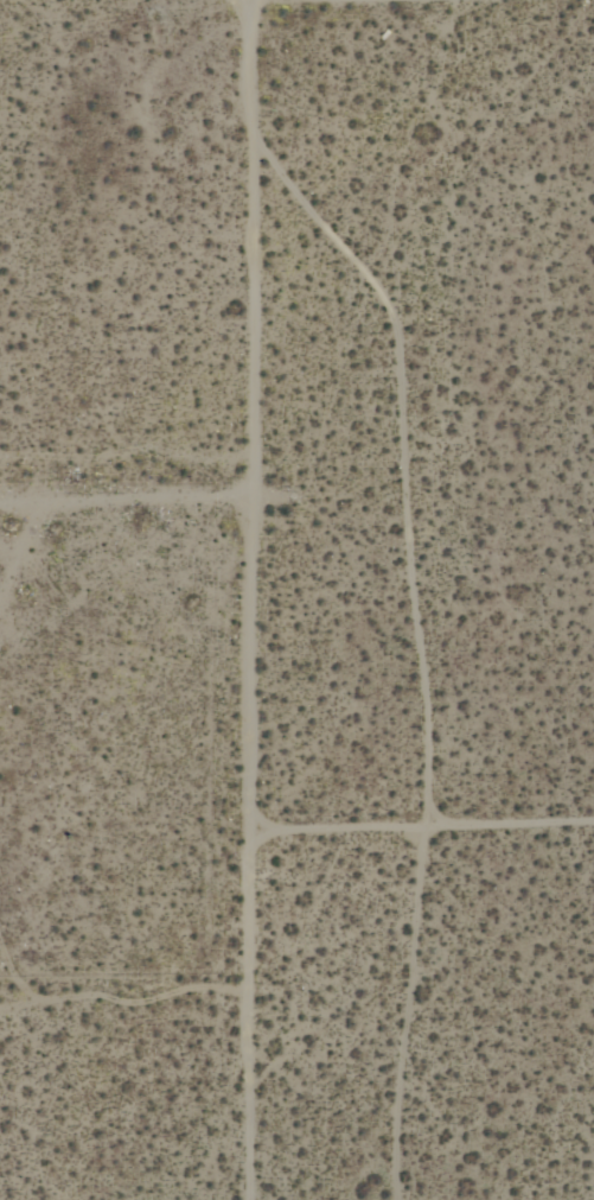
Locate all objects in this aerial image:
road: (251, 599)
road: (422, 827)

